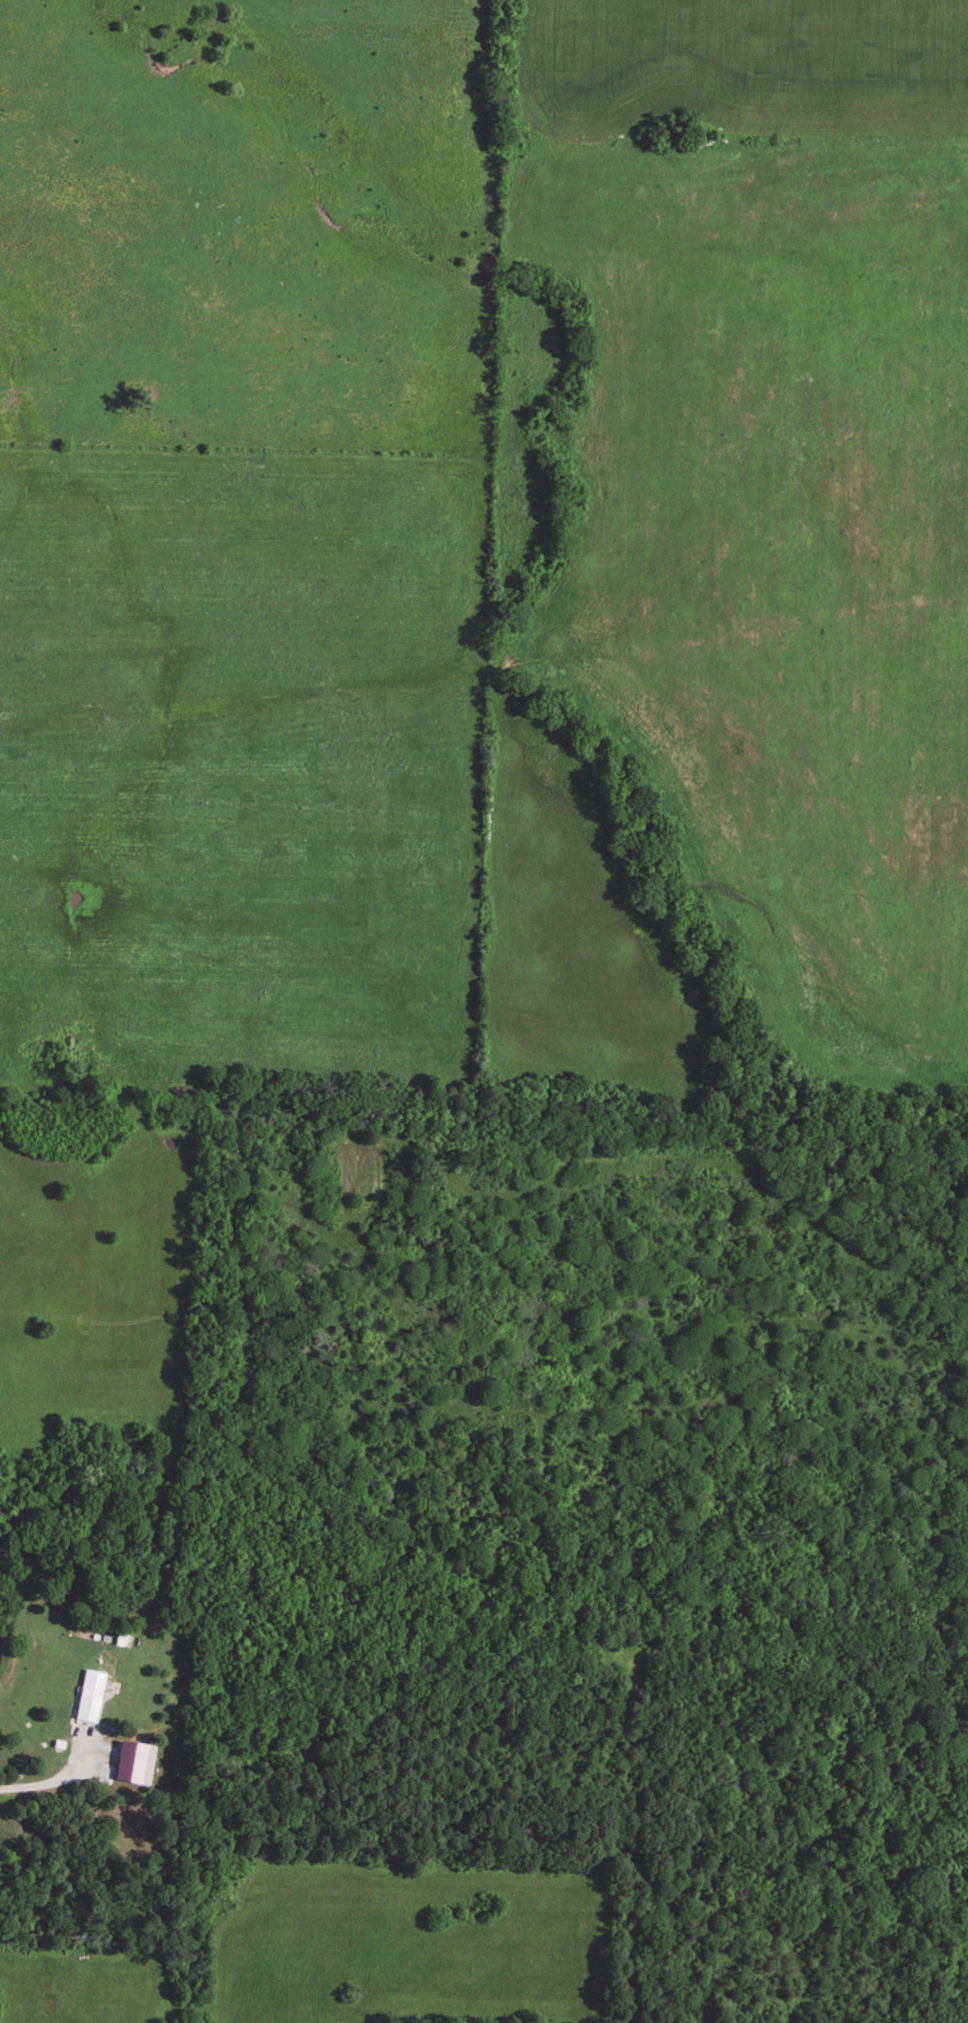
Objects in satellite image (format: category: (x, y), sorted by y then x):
building: (88, 1697)
road: (70, 1783)

